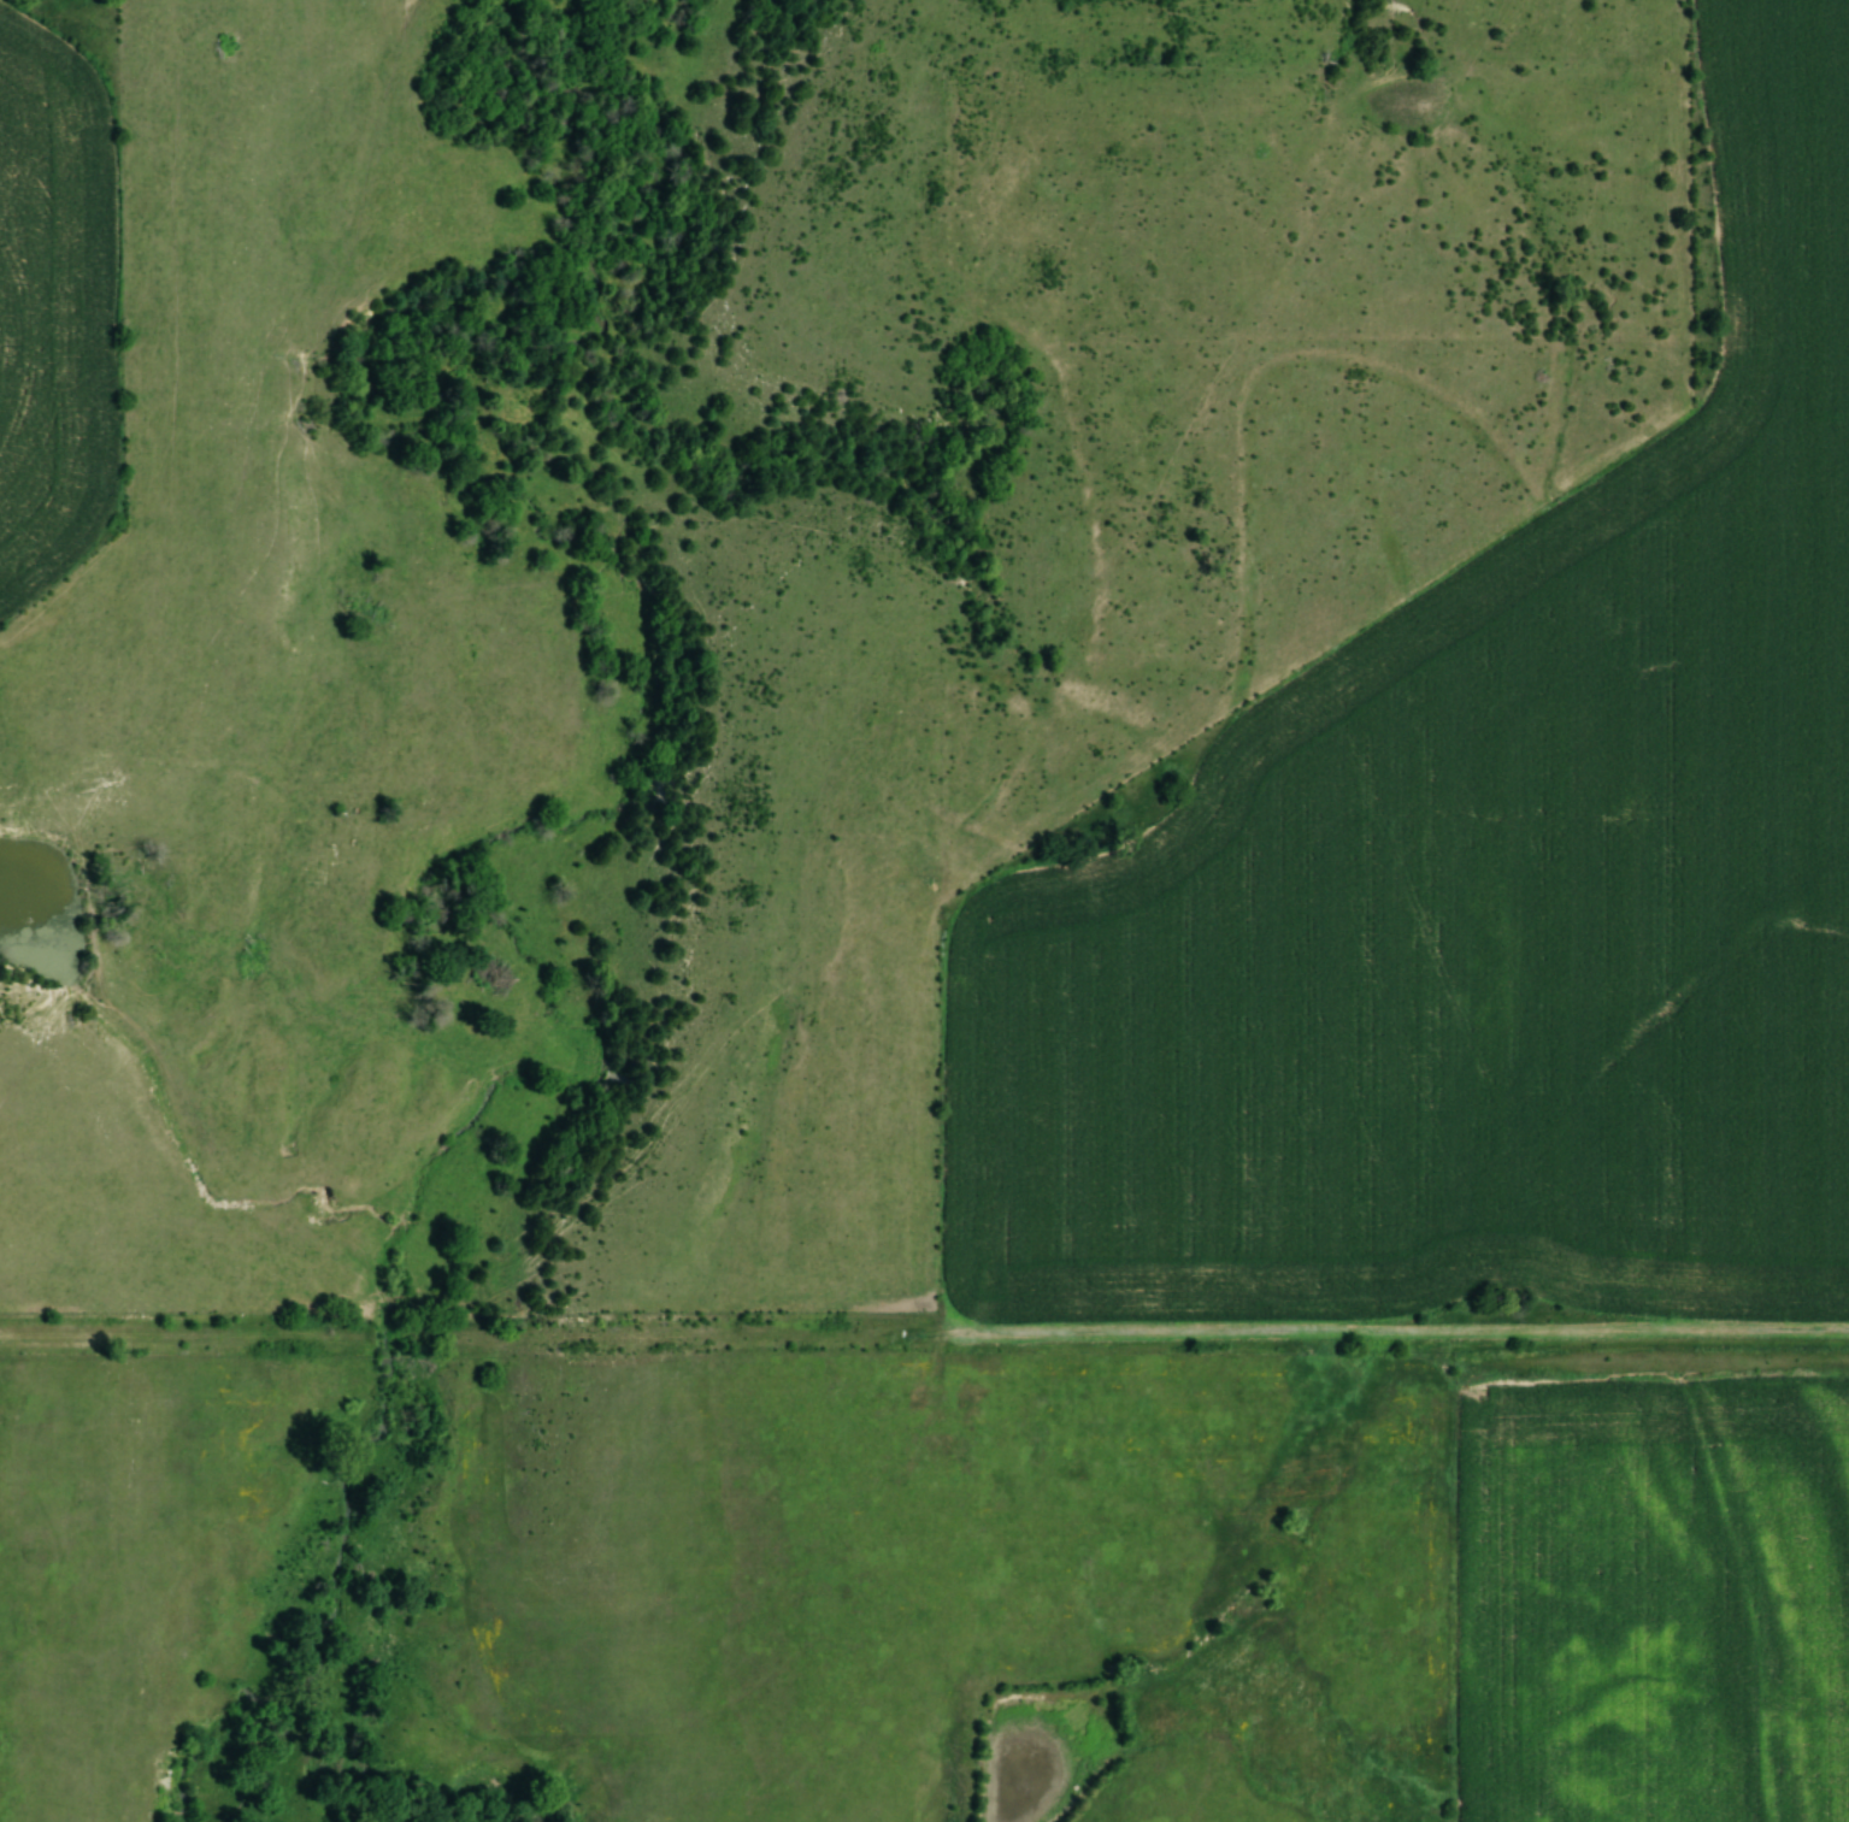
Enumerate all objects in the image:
road: (924, 1328)

